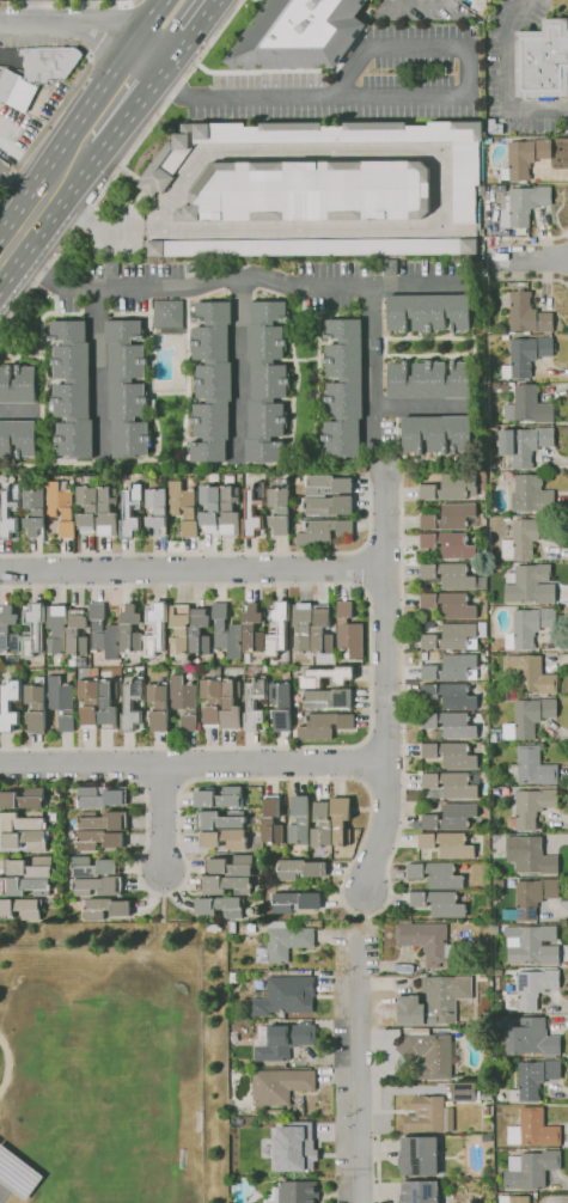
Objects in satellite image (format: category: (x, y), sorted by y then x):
parking lot: (22, 0)
building: (481, 0)
road: (71, 1)
road: (33, 12)
road: (231, 14)
road: (195, 18)
road: (78, 28)
road: (149, 28)
parking lot: (35, 35)
building: (298, 35)
road: (411, 44)
road: (165, 48)
road: (200, 57)
building: (542, 60)
building: (49, 62)
road: (508, 79)
road: (167, 81)
building: (16, 91)
road: (66, 94)
road: (331, 97)
road: (564, 109)
road: (312, 152)
building: (524, 158)
road: (73, 160)
parking lot: (4, 169)
building: (160, 169)
road: (104, 188)
road: (20, 189)
building: (480, 190)
building: (311, 191)
building: (521, 204)
road: (91, 224)
road: (148, 230)
road: (298, 230)
road: (454, 230)
road: (8, 232)
road: (567, 234)
road: (517, 238)
building: (313, 246)
road: (491, 250)
road: (530, 262)
road: (567, 265)
building: (389, 267)
building: (110, 269)
road: (529, 280)
road: (416, 285)
road: (183, 286)
road: (14, 312)
building: (428, 312)
building: (525, 313)
building: (167, 317)
building: (526, 355)
road: (371, 362)
road: (236, 370)
road: (100, 375)
building: (428, 380)
building: (212, 381)
building: (265, 381)
building: (17, 385)
building: (72, 389)
building: (343, 389)
building: (126, 390)
road: (421, 407)
building: (527, 407)
road: (17, 410)
building: (491, 433)
building: (435, 434)
building: (17, 438)
building: (524, 444)
building: (326, 486)
road: (367, 486)
building: (448, 487)
road: (402, 494)
building: (530, 495)
building: (86, 506)
building: (208, 506)
building: (328, 506)
building: (60, 507)
building: (8, 509)
building: (279, 509)
building: (130, 511)
building: (155, 511)
building: (188, 511)
building: (228, 511)
building: (252, 511)
building: (33, 512)
building: (106, 512)
building: (451, 517)
road: (385, 520)
building: (322, 532)
building: (524, 538)
building: (447, 545)
road: (360, 550)
road: (213, 552)
road: (191, 569)
building: (452, 576)
building: (531, 585)
road: (364, 587)
road: (361, 588)
building: (448, 604)
building: (303, 624)
building: (482, 627)
building: (527, 627)
building: (154, 628)
building: (179, 628)
building: (251, 628)
building: (277, 628)
building: (32, 629)
building: (56, 629)
building: (111, 629)
building: (7, 630)
building: (129, 630)
building: (348, 630)
building: (77, 633)
building: (320, 633)
building: (199, 635)
building: (226, 635)
building: (450, 636)
road: (369, 665)
building: (450, 668)
building: (529, 674)
building: (326, 677)
building: (450, 695)
building: (329, 697)
building: (212, 698)
building: (87, 701)
building: (183, 701)
building: (61, 702)
building: (254, 703)
building: (35, 704)
building: (132, 704)
building: (230, 704)
building: (5, 706)
building: (106, 706)
building: (280, 706)
building: (158, 707)
building: (531, 716)
building: (450, 725)
building: (323, 726)
road: (386, 732)
building: (506, 732)
road: (383, 740)
building: (450, 755)
road: (355, 762)
road: (193, 763)
building: (531, 767)
road: (378, 781)
road: (161, 784)
building: (453, 784)
building: (99, 796)
road: (369, 796)
building: (219, 798)
building: (23, 799)
building: (532, 806)
road: (161, 817)
building: (452, 818)
building: (219, 819)
building: (103, 820)
building: (299, 820)
building: (340, 820)
building: (20, 822)
building: (270, 822)
building: (320, 825)
building: (224, 838)
building: (26, 839)
building: (98, 839)
building: (446, 844)
building: (530, 856)
building: (230, 866)
building: (92, 867)
building: (30, 868)
building: (299, 869)
building: (436, 875)
building: (222, 884)
building: (497, 884)
building: (98, 886)
building: (25, 887)
building: (531, 898)
building: (294, 902)
building: (439, 903)
building: (219, 906)
building: (20, 908)
building: (104, 908)
building: (484, 914)
road: (361, 915)
building: (213, 927)
building: (230, 927)
building: (494, 930)
building: (457, 934)
building: (425, 941)
building: (281, 942)
building: (531, 945)
building: (531, 989)
building: (283, 996)
building: (433, 1000)
building: (531, 1038)
building: (281, 1042)
building: (429, 1054)
track: (5, 1063)
road: (360, 1069)
building: (533, 1079)
building: (279, 1086)
building: (466, 1092)
building: (487, 1110)
building: (274, 1113)
park: (105, 1115)
building: (428, 1116)
building: (533, 1130)
building: (485, 1137)
building: (294, 1147)
building: (417, 1156)
building: (530, 1170)
building: (17, 1173)
park: (2, 1189)
building: (419, 1191)
building: (293, 1192)
building: (513, 1199)

